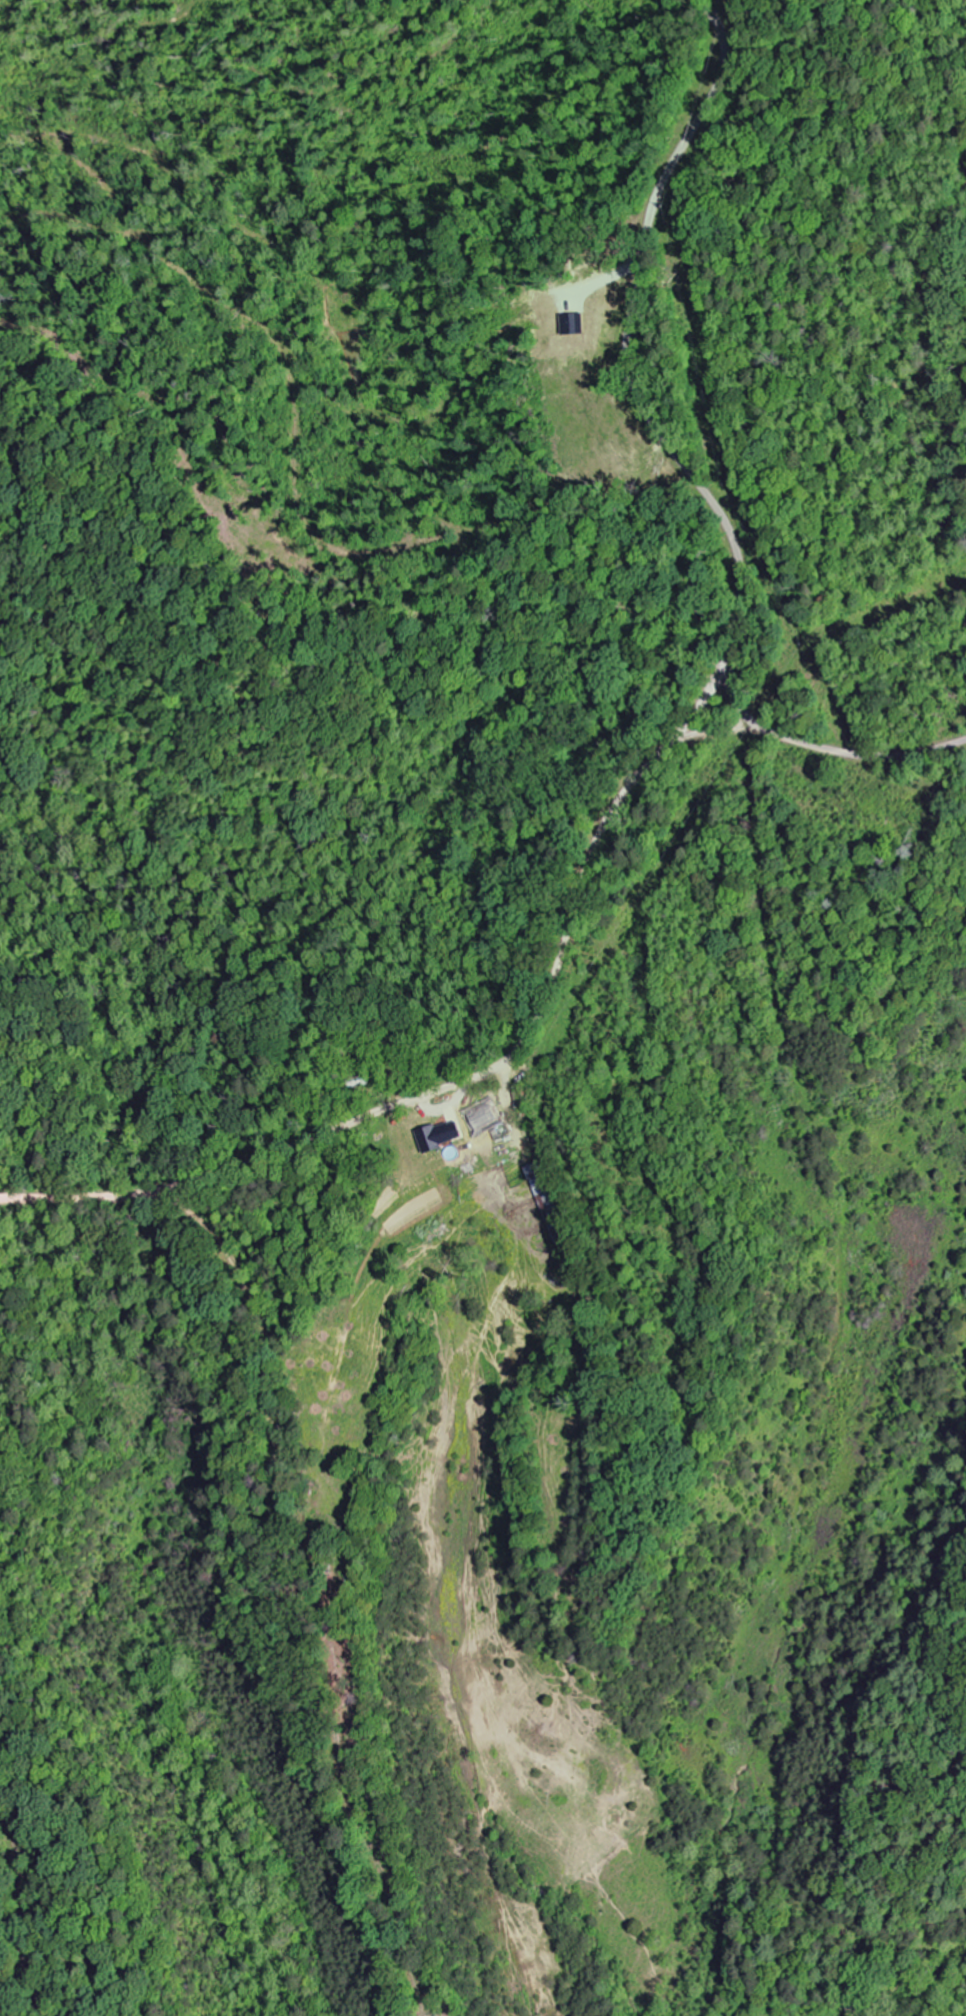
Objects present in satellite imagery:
road: (635, 381)
road: (735, 696)
road: (862, 757)
road: (474, 1078)
road: (802, 1108)
building: (482, 1116)
building: (436, 1136)

